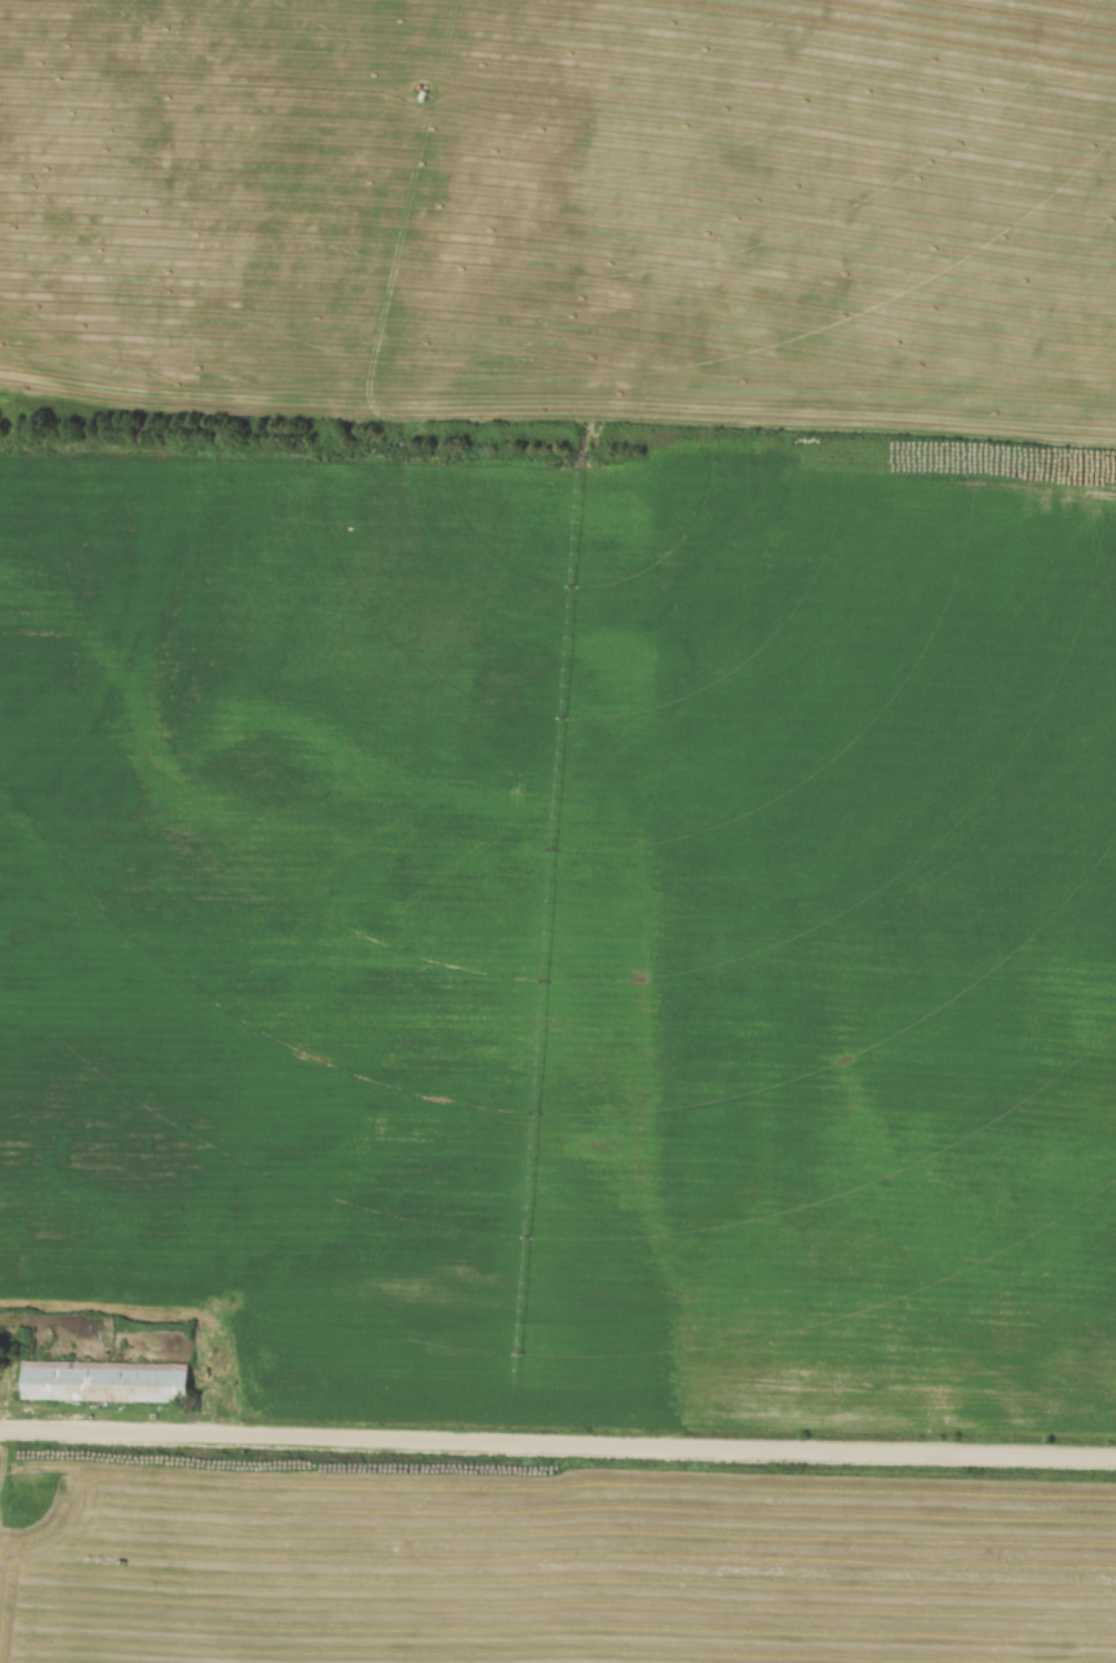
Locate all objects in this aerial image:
building: (109, 1382)
road: (558, 1447)

